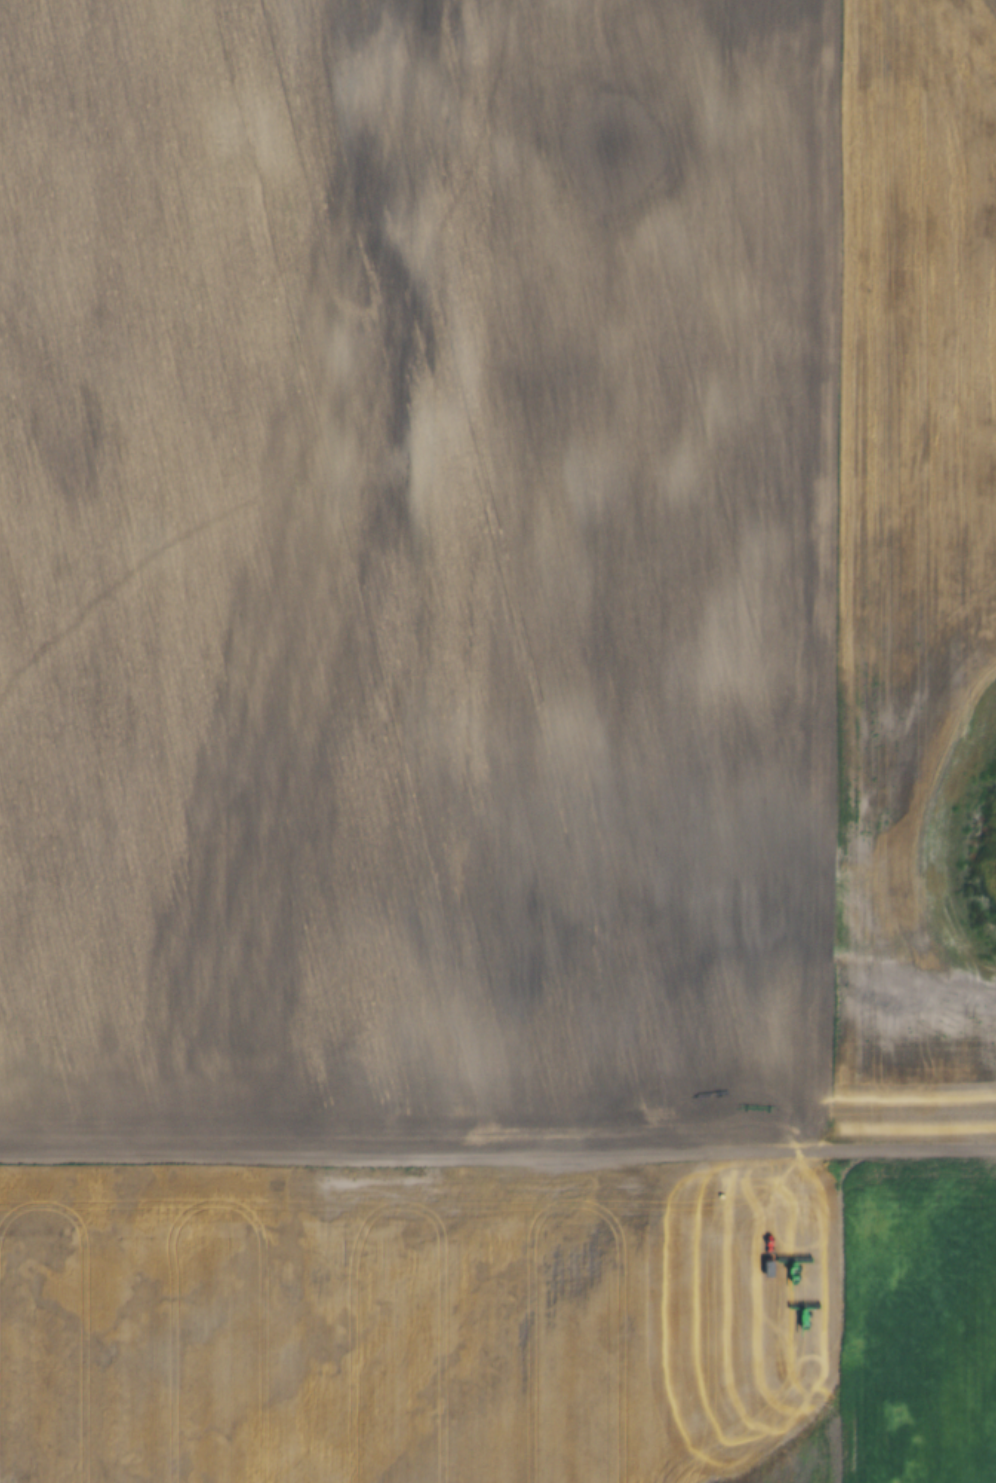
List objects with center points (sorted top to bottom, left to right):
road: (498, 1154)

